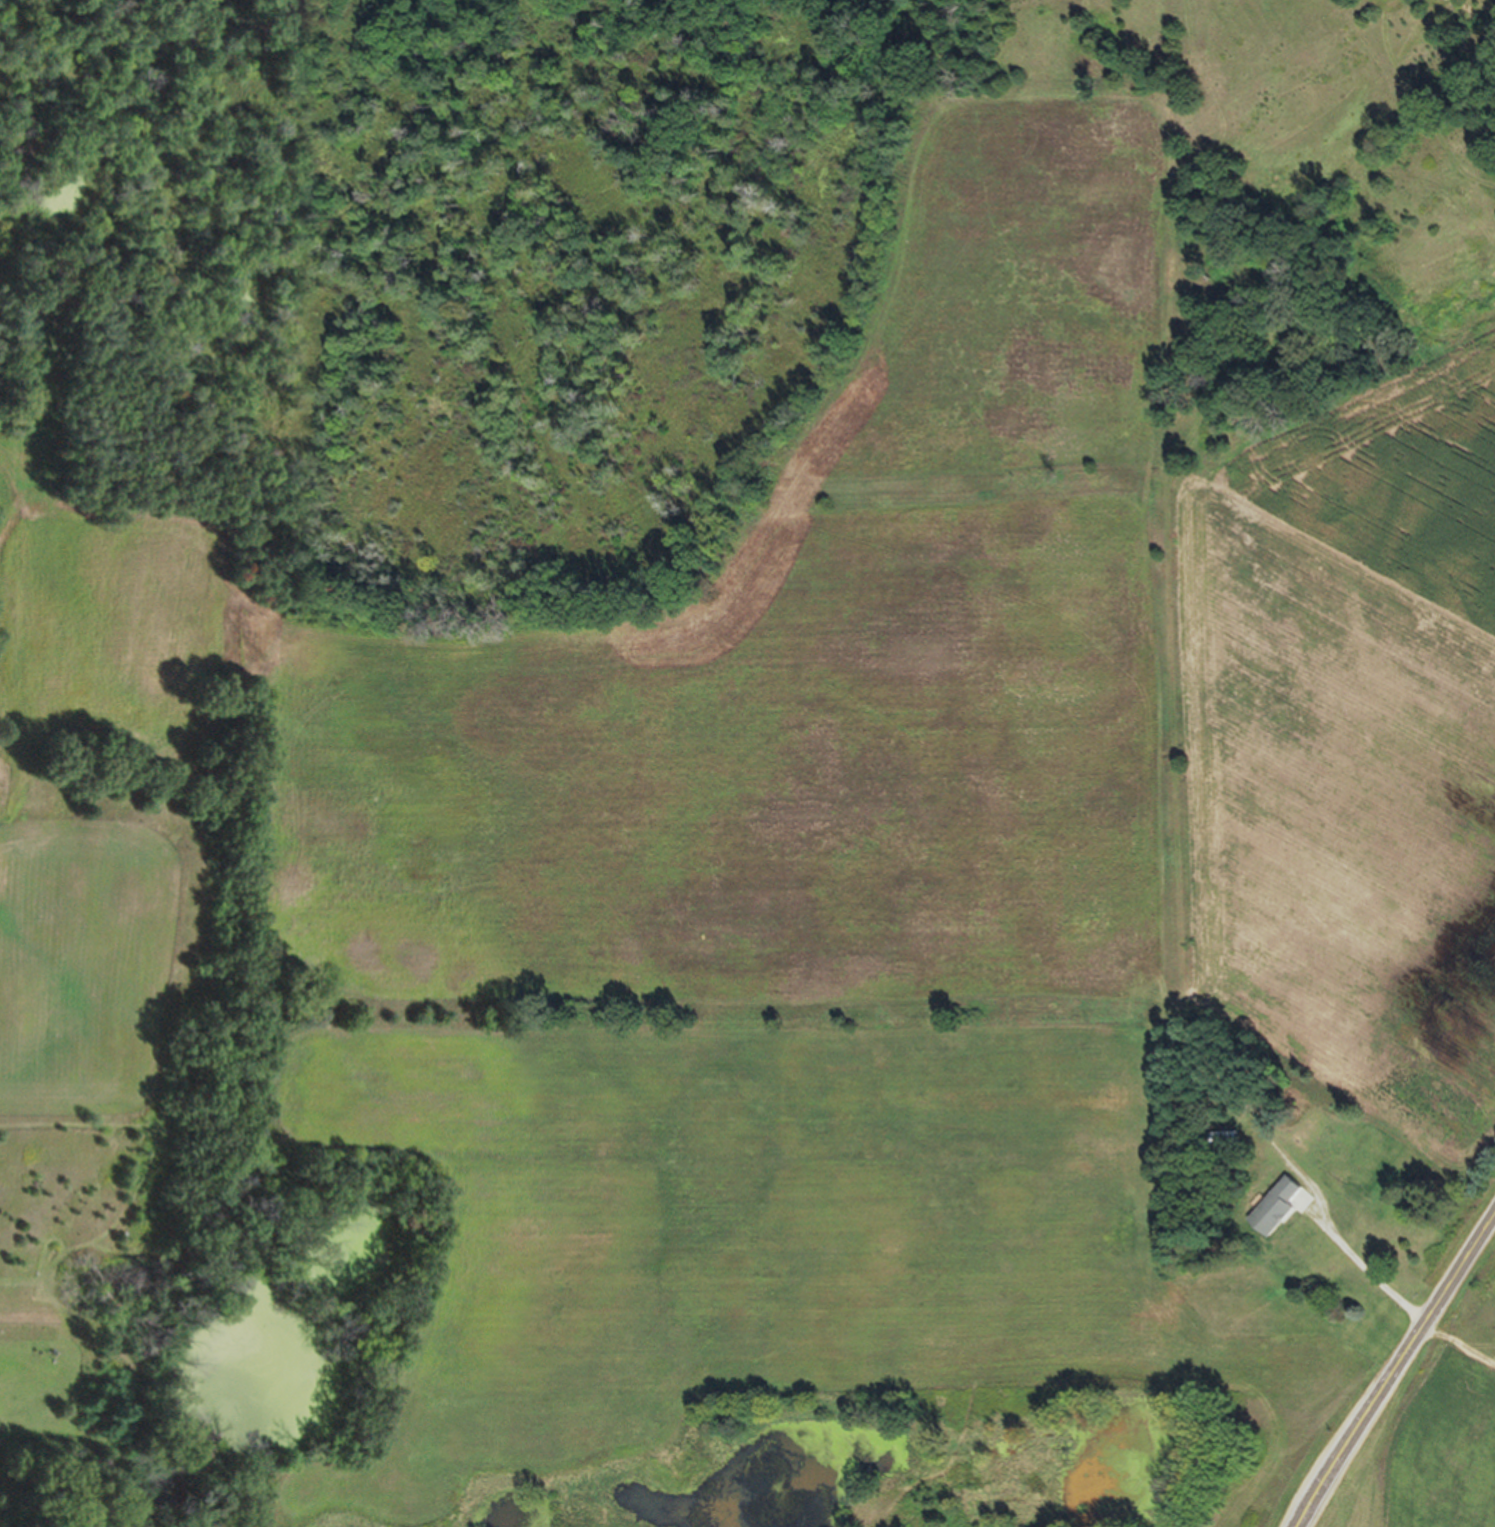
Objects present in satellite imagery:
building: (1222, 1146)
building: (1273, 1215)
road: (1394, 1371)

